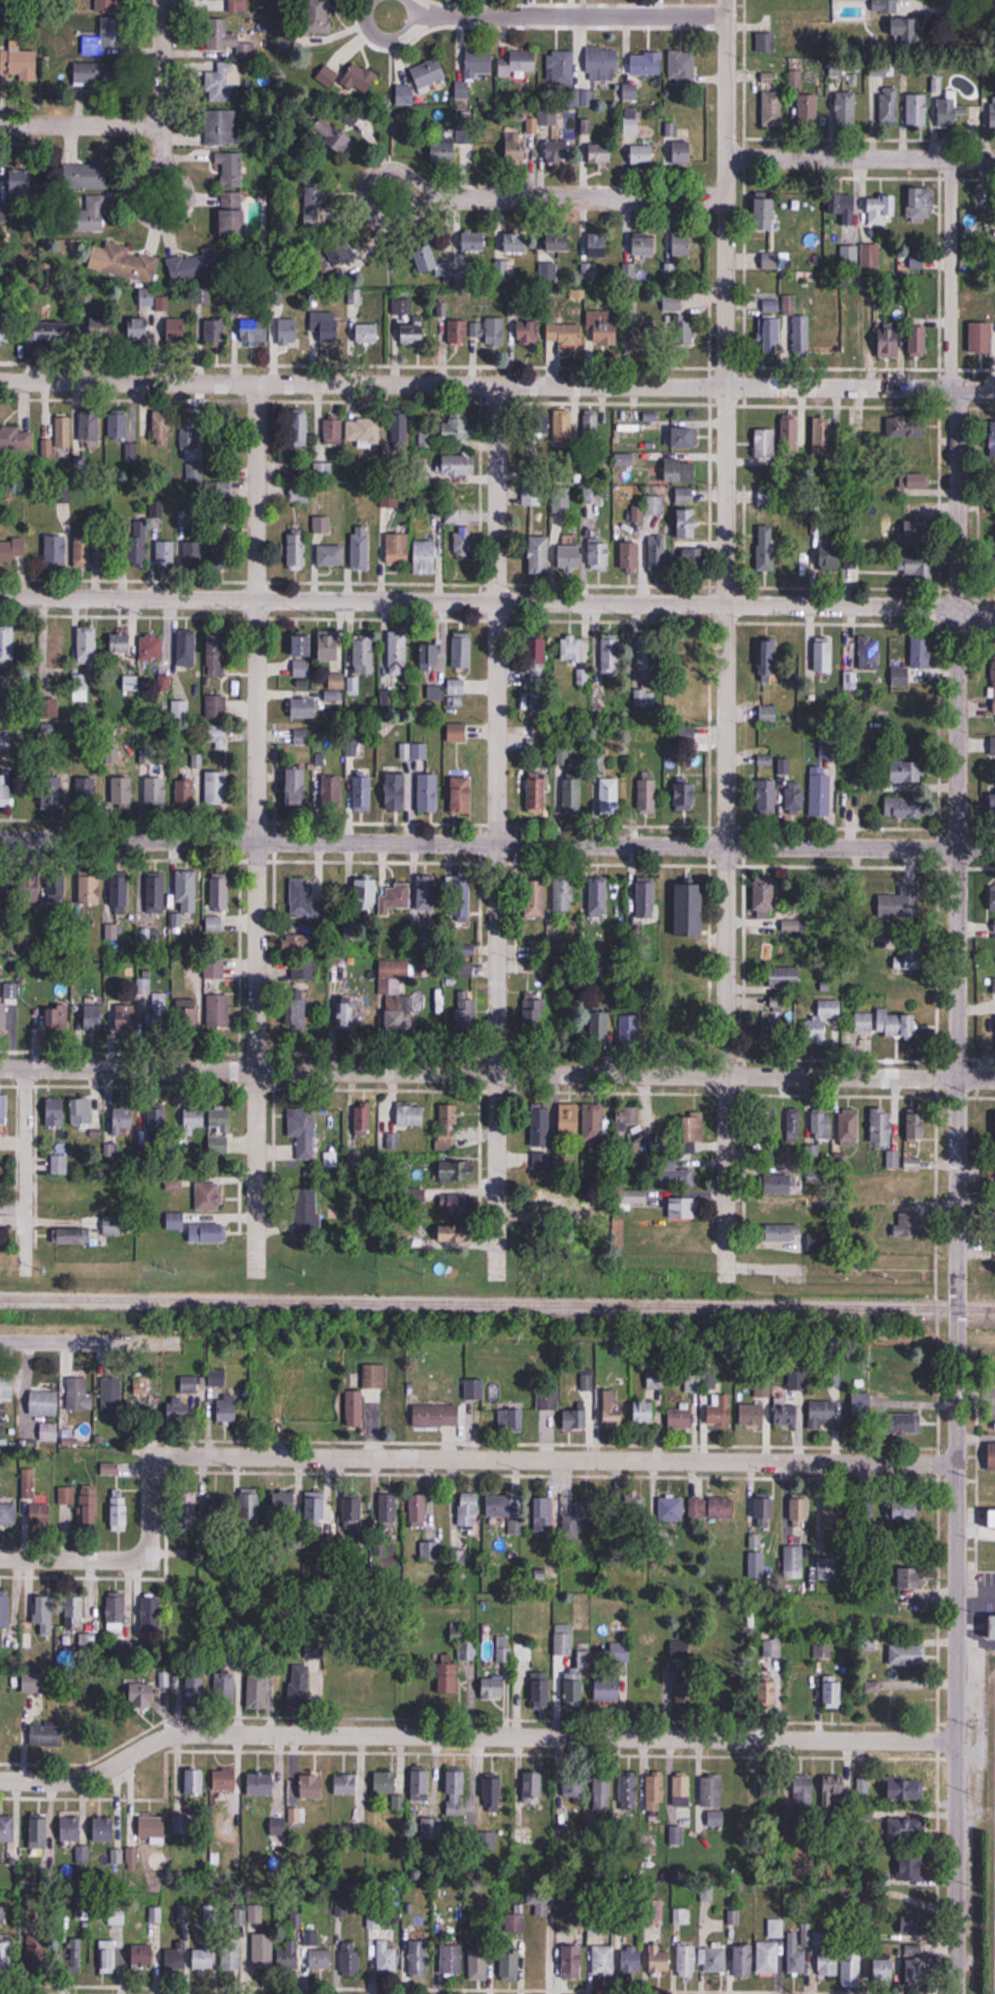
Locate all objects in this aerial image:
building: (231, 5)
building: (885, 6)
road: (959, 10)
building: (315, 12)
road: (570, 16)
building: (905, 30)
road: (389, 39)
building: (225, 41)
building: (20, 62)
building: (519, 63)
building: (602, 63)
building: (646, 63)
building: (477, 64)
building: (682, 65)
building: (561, 67)
building: (429, 73)
building: (327, 76)
building: (96, 77)
building: (359, 77)
building: (222, 81)
building: (631, 92)
building: (405, 94)
building: (889, 106)
building: (772, 107)
building: (846, 109)
building: (808, 110)
building: (918, 110)
building: (946, 111)
building: (992, 112)
road: (162, 115)
building: (631, 121)
road: (81, 124)
building: (362, 125)
building: (221, 128)
building: (333, 136)
building: (551, 140)
building: (516, 148)
building: (444, 152)
building: (681, 153)
building: (600, 155)
building: (642, 155)
road: (860, 157)
building: (230, 168)
building: (85, 176)
building: (31, 182)
road: (539, 198)
building: (314, 204)
building: (920, 204)
building: (846, 208)
building: (880, 209)
building: (92, 212)
building: (233, 213)
building: (766, 214)
building: (473, 241)
building: (558, 241)
building: (515, 242)
building: (682, 243)
building: (645, 244)
building: (598, 245)
building: (341, 253)
building: (870, 255)
building: (426, 261)
building: (775, 261)
building: (130, 263)
building: (191, 267)
building: (147, 297)
building: (676, 304)
building: (788, 305)
building: (326, 327)
building: (5, 328)
building: (178, 328)
building: (101, 329)
building: (138, 329)
building: (215, 330)
building: (601, 330)
building: (492, 331)
building: (253, 332)
building: (528, 332)
building: (683, 332)
building: (52, 333)
building: (286, 333)
building: (458, 333)
building: (367, 334)
building: (413, 334)
building: (564, 335)
building: (646, 335)
building: (771, 337)
building: (801, 337)
building: (981, 338)
building: (856, 339)
building: (825, 340)
building: (918, 342)
building: (889, 344)
road: (497, 384)
building: (118, 424)
building: (591, 425)
building: (89, 426)
building: (623, 426)
building: (563, 427)
building: (162, 428)
building: (908, 428)
building: (332, 431)
building: (363, 431)
building: (400, 431)
building: (296, 432)
building: (190, 433)
building: (427, 435)
building: (790, 435)
building: (684, 438)
building: (824, 438)
building: (16, 440)
building: (992, 440)
building: (765, 445)
building: (131, 452)
building: (624, 460)
building: (458, 466)
building: (679, 471)
building: (322, 472)
building: (218, 489)
building: (300, 494)
building: (593, 495)
building: (685, 496)
building: (767, 497)
building: (531, 498)
building: (389, 499)
building: (654, 505)
building: (561, 507)
building: (638, 513)
building: (454, 517)
building: (95, 519)
building: (687, 524)
building: (321, 526)
building: (918, 533)
building: (464, 542)
building: (361, 549)
building: (398, 549)
building: (766, 549)
building: (12, 551)
building: (56, 551)
building: (296, 551)
building: (84, 552)
building: (140, 552)
building: (194, 552)
building: (165, 553)
building: (599, 554)
building: (657, 554)
building: (222, 555)
building: (330, 556)
building: (539, 556)
building: (570, 556)
building: (630, 557)
building: (830, 557)
building: (425, 558)
building: (693, 560)
building: (922, 571)
building: (994, 571)
road: (497, 601)
road: (725, 641)
building: (122, 643)
building: (7, 645)
building: (87, 645)
building: (151, 647)
building: (186, 648)
building: (330, 649)
building: (571, 649)
building: (462, 651)
building: (302, 653)
building: (398, 653)
building: (923, 653)
building: (425, 654)
building: (646, 654)
building: (364, 655)
building: (611, 655)
building: (217, 656)
building: (691, 657)
building: (767, 658)
building: (823, 660)
building: (540, 662)
building: (900, 675)
building: (993, 685)
building: (457, 689)
building: (215, 706)
building: (303, 709)
building: (180, 710)
building: (678, 710)
building: (768, 715)
building: (218, 736)
building: (684, 738)
building: (8, 741)
building: (993, 746)
building: (906, 772)
building: (296, 786)
building: (216, 788)
building: (6, 789)
building: (87, 791)
building: (155, 791)
building: (185, 791)
building: (362, 791)
building: (396, 791)
building: (647, 791)
building: (122, 792)
building: (428, 792)
building: (820, 792)
building: (52, 793)
building: (330, 793)
building: (536, 793)
building: (686, 793)
building: (572, 794)
building: (609, 794)
building: (462, 795)
building: (767, 797)
building: (993, 804)
building: (905, 807)
road: (258, 829)
road: (498, 832)
road: (497, 843)
building: (31, 888)
building: (57, 888)
building: (89, 889)
building: (118, 891)
building: (186, 891)
building: (426, 892)
building: (366, 893)
building: (155, 895)
building: (215, 895)
building: (564, 895)
building: (598, 897)
building: (394, 898)
building: (535, 898)
building: (646, 898)
building: (765, 898)
building: (992, 898)
building: (305, 899)
building: (459, 899)
building: (899, 905)
building: (690, 910)
building: (214, 924)
building: (298, 941)
building: (911, 958)
building: (303, 970)
building: (682, 973)
building: (784, 978)
building: (994, 983)
building: (395, 992)
building: (216, 996)
building: (778, 1005)
building: (296, 1009)
building: (158, 1013)
building: (187, 1014)
building: (347, 1014)
building: (468, 1015)
building: (55, 1017)
building: (90, 1017)
building: (3, 1018)
building: (125, 1018)
building: (533, 1018)
building: (821, 1019)
building: (864, 1022)
building: (895, 1025)
building: (599, 1026)
building: (629, 1029)
building: (681, 1029)
building: (776, 1033)
building: (988, 1035)
road: (497, 1073)
road: (958, 1076)
building: (4, 1109)
building: (55, 1113)
building: (84, 1113)
building: (410, 1115)
building: (193, 1117)
building: (219, 1117)
building: (122, 1120)
building: (628, 1120)
building: (362, 1121)
building: (569, 1121)
building: (157, 1122)
building: (593, 1123)
building: (821, 1124)
building: (917, 1124)
building: (448, 1125)
building: (792, 1126)
building: (882, 1126)
building: (848, 1128)
building: (663, 1130)
building: (302, 1132)
building: (540, 1136)
building: (392, 1141)
building: (0, 1143)
building: (218, 1145)
building: (687, 1146)
building: (59, 1165)
building: (457, 1171)
road: (26, 1172)
building: (675, 1173)
building: (778, 1184)
building: (909, 1186)
building: (419, 1196)
building: (632, 1196)
building: (208, 1197)
building: (72, 1198)
building: (120, 1198)
building: (559, 1201)
building: (454, 1204)
building: (684, 1208)
building: (305, 1210)
building: (175, 1221)
building: (911, 1224)
building: (207, 1233)
building: (449, 1233)
building: (73, 1236)
railway: (497, 1304)
road: (90, 1341)
building: (903, 1371)
building: (297, 1376)
building: (217, 1378)
building: (141, 1385)
building: (189, 1386)
building: (7, 1387)
building: (368, 1392)
building: (79, 1395)
building: (112, 1395)
building: (548, 1398)
building: (44, 1403)
building: (862, 1405)
building: (613, 1409)
building: (226, 1410)
building: (311, 1410)
building: (179, 1411)
building: (644, 1413)
building: (720, 1414)
building: (787, 1415)
building: (436, 1416)
building: (752, 1416)
building: (823, 1416)
building: (680, 1419)
building: (575, 1420)
building: (511, 1421)
building: (903, 1424)
railway: (994, 1428)
building: (991, 1457)
road: (435, 1459)
building: (109, 1469)
building: (633, 1503)
building: (285, 1504)
building: (66, 1505)
building: (89, 1506)
building: (315, 1506)
building: (501, 1506)
building: (34, 1508)
building: (190, 1508)
building: (722, 1508)
building: (800, 1508)
building: (250, 1509)
building: (671, 1509)
building: (697, 1509)
building: (219, 1510)
building: (418, 1510)
building: (468, 1510)
building: (905, 1510)
building: (353, 1511)
building: (388, 1511)
building: (543, 1512)
building: (764, 1512)
building: (120, 1513)
building: (8, 1515)
building: (584, 1515)
building: (992, 1519)
building: (793, 1559)
building: (828, 1569)
building: (911, 1578)
building: (793, 1606)
building: (5, 1610)
building: (74, 1611)
building: (116, 1611)
building: (152, 1614)
building: (44, 1616)
building: (854, 1616)
building: (821, 1626)
building: (993, 1627)
building: (563, 1641)
building: (87, 1642)
building: (772, 1648)
building: (502, 1650)
building: (680, 1650)
building: (823, 1650)
building: (125, 1651)
building: (523, 1653)
building: (620, 1653)
building: (908, 1655)
building: (451, 1671)
building: (34, 1682)
building: (299, 1688)
building: (492, 1688)
building: (608, 1689)
building: (541, 1690)
building: (771, 1690)
building: (833, 1690)
building: (195, 1691)
building: (225, 1691)
building: (258, 1691)
building: (573, 1692)
building: (686, 1695)
building: (142, 1696)
road: (472, 1735)
building: (46, 1736)
building: (224, 1780)
building: (194, 1781)
building: (420, 1784)
building: (260, 1785)
building: (345, 1785)
building: (772, 1785)
building: (311, 1786)
building: (573, 1786)
building: (390, 1787)
building: (533, 1787)
building: (904, 1789)
building: (682, 1790)
building: (739, 1790)
building: (834, 1791)
building: (455, 1792)
building: (628, 1792)
building: (655, 1792)
building: (707, 1792)
building: (602, 1793)
building: (804, 1793)
building: (492, 1794)
building: (300, 1816)
building: (73, 1827)
building: (278, 1827)
building: (104, 1828)
building: (152, 1828)
building: (431, 1829)
building: (905, 1829)
building: (7, 1830)
building: (357, 1831)
building: (38, 1832)
building: (82, 1854)
building: (912, 1868)
building: (29, 1917)
building: (514, 1923)
building: (775, 1928)
building: (262, 1952)
building: (5, 1955)
building: (106, 1956)
building: (143, 1956)
building: (232, 1956)
building: (303, 1956)
building: (795, 1956)
building: (767, 1957)
building: (203, 1958)
building: (386, 1958)
building: (418, 1958)
building: (350, 1959)
building: (451, 1959)
building: (175, 1960)
building: (603, 1960)
building: (631, 1960)
building: (659, 1960)
building: (713, 1960)
building: (687, 1961)
building: (742, 1961)
building: (571, 1962)
building: (478, 1963)
building: (827, 1964)
building: (509, 1965)
building: (851, 1967)
building: (884, 1969)
building: (916, 1970)

